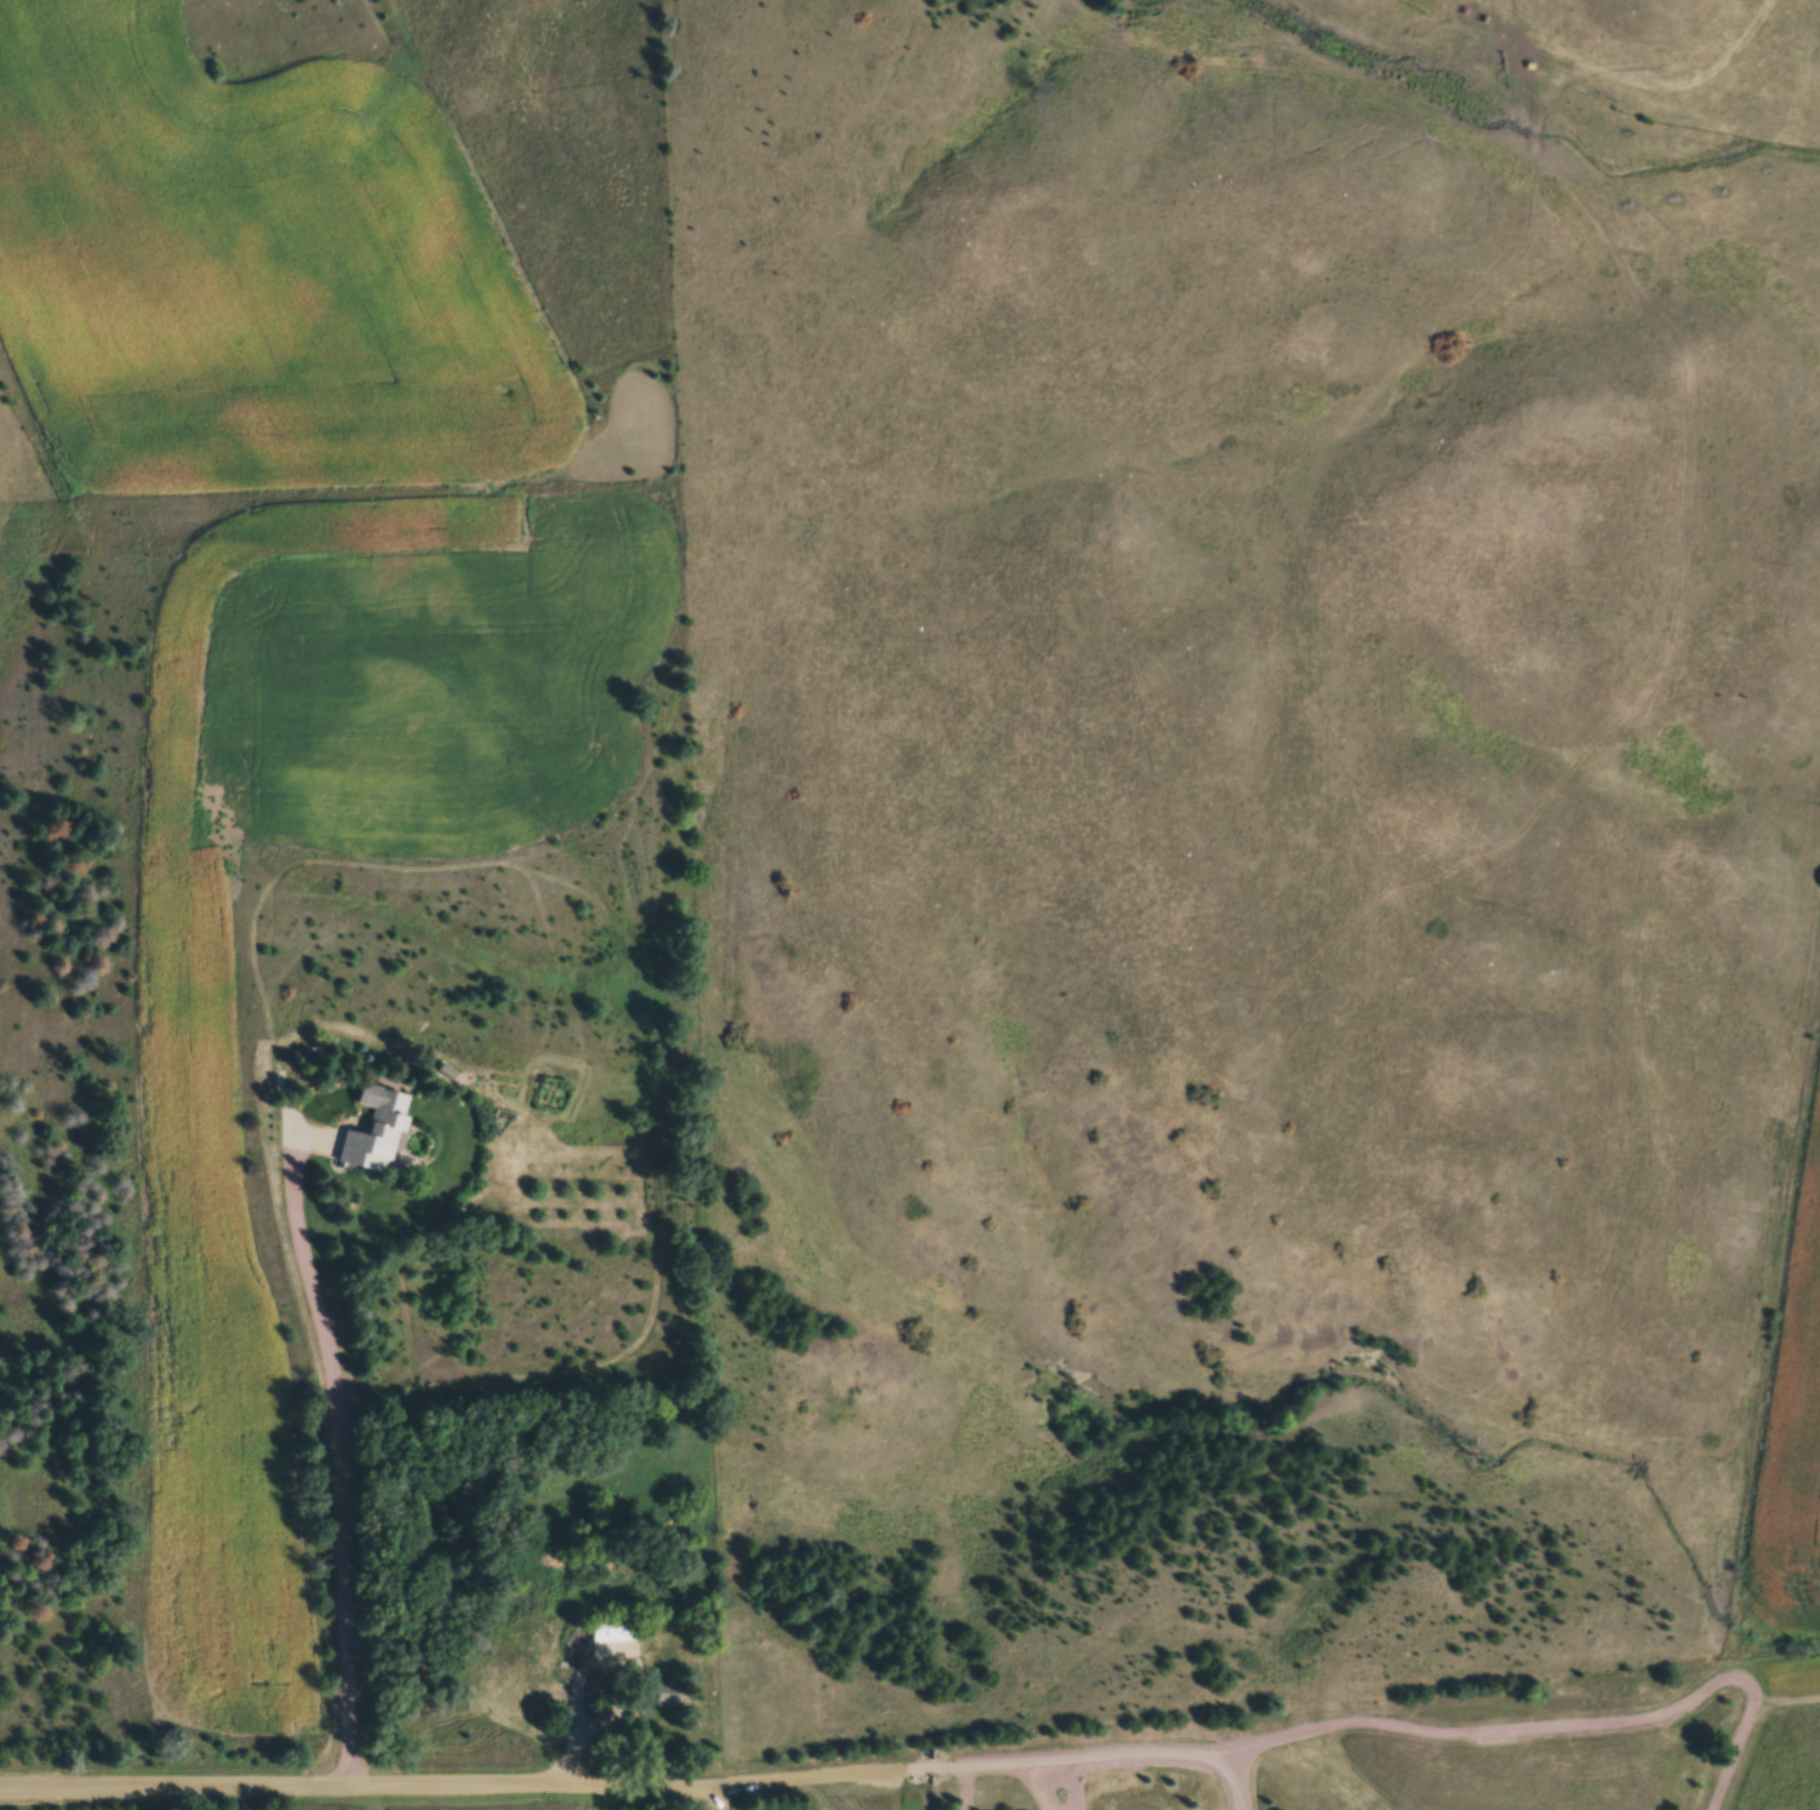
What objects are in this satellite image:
crop: (251, 281)
building: (377, 1130)
road: (338, 1457)
building: (616, 1629)
road: (1095, 1753)
road: (459, 1786)

